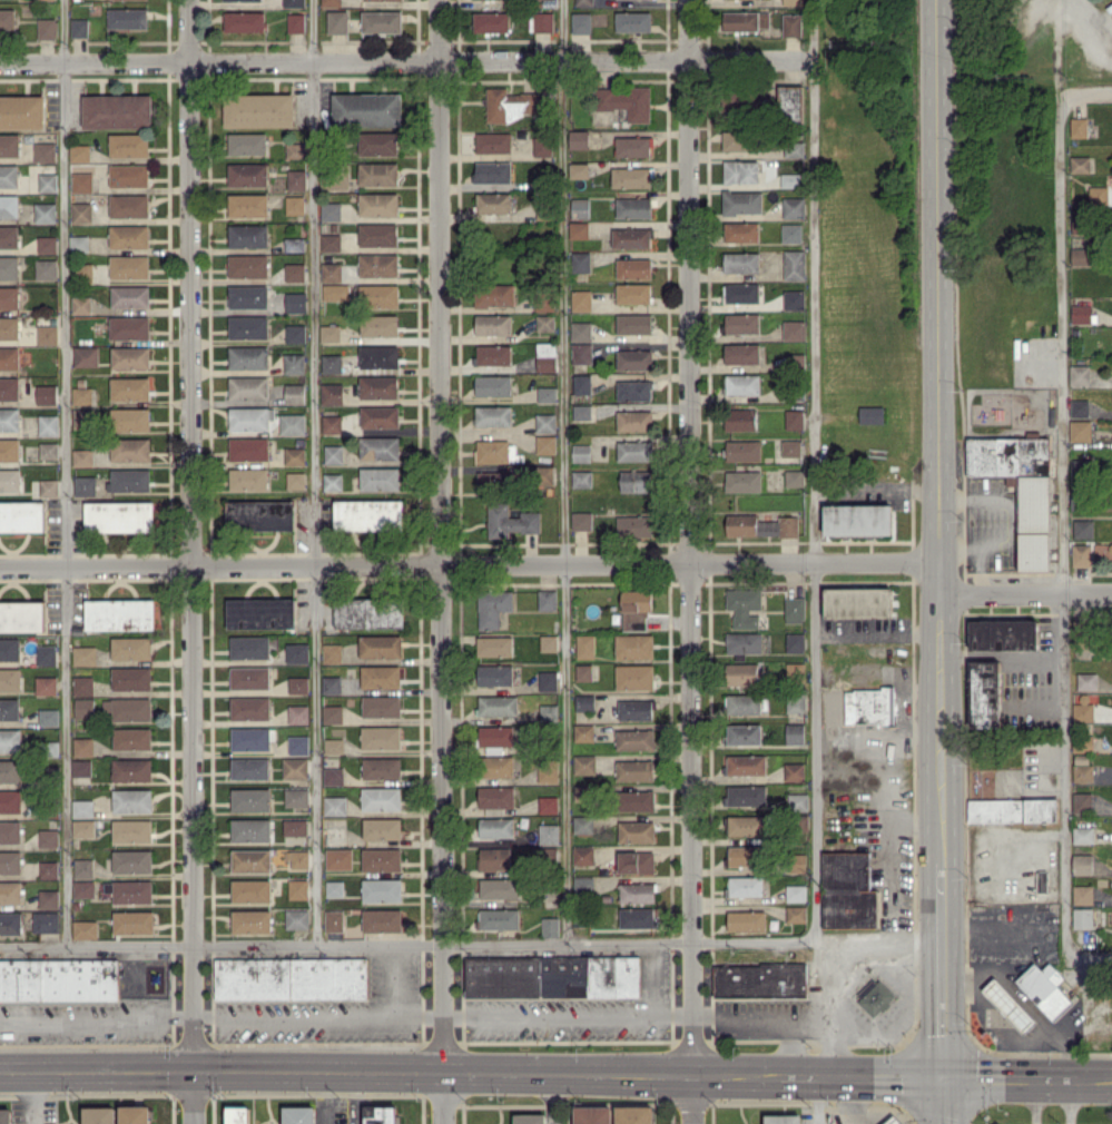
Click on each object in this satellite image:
building: (239, 0)
building: (791, 1)
building: (294, 2)
building: (331, 2)
building: (583, 2)
building: (127, 18)
building: (7, 19)
road: (1094, 19)
building: (745, 20)
building: (244, 21)
building: (336, 21)
building: (381, 21)
building: (490, 21)
building: (542, 21)
building: (632, 21)
building: (295, 22)
building: (580, 22)
building: (790, 24)
building: (79, 27)
building: (47, 28)
road: (405, 61)
road: (1086, 93)
building: (626, 101)
building: (789, 102)
building: (511, 103)
building: (258, 109)
building: (366, 109)
building: (117, 110)
building: (22, 111)
building: (1079, 127)
building: (578, 138)
building: (737, 140)
building: (247, 142)
building: (377, 142)
building: (492, 142)
building: (9, 145)
building: (129, 145)
building: (542, 146)
building: (632, 146)
building: (793, 149)
building: (295, 150)
building: (45, 151)
building: (80, 152)
building: (1080, 164)
building: (578, 169)
building: (740, 170)
building: (492, 171)
building: (247, 174)
building: (378, 174)
building: (9, 175)
building: (129, 175)
building: (630, 177)
building: (296, 179)
building: (789, 179)
building: (334, 180)
building: (48, 181)
building: (82, 183)
building: (1098, 194)
building: (493, 201)
building: (741, 201)
building: (294, 204)
building: (378, 204)
building: (129, 205)
building: (248, 205)
building: (9, 206)
building: (580, 207)
building: (633, 207)
building: (793, 207)
building: (331, 210)
building: (46, 211)
building: (81, 211)
building: (578, 229)
building: (741, 231)
building: (790, 231)
building: (378, 234)
building: (248, 235)
building: (9, 236)
building: (129, 236)
building: (631, 237)
building: (331, 241)
building: (79, 243)
building: (47, 244)
building: (294, 244)
building: (1081, 256)
building: (580, 262)
building: (740, 262)
building: (794, 264)
building: (248, 265)
building: (378, 265)
building: (129, 266)
building: (9, 267)
building: (46, 268)
building: (633, 268)
building: (82, 272)
building: (295, 272)
building: (331, 272)
building: (335, 292)
building: (633, 293)
building: (740, 293)
building: (248, 295)
building: (378, 295)
building: (494, 295)
building: (130, 296)
building: (9, 297)
building: (581, 299)
building: (794, 299)
building: (295, 302)
building: (81, 304)
building: (1081, 313)
building: (545, 323)
building: (633, 323)
building: (742, 323)
building: (493, 324)
building: (380, 325)
building: (248, 326)
building: (9, 327)
building: (129, 327)
building: (794, 329)
building: (581, 331)
building: (295, 333)
building: (329, 333)
building: (48, 334)
building: (581, 353)
building: (741, 353)
building: (493, 354)
building: (86, 356)
building: (248, 356)
building: (380, 356)
building: (545, 356)
building: (9, 357)
building: (130, 357)
building: (634, 359)
building: (294, 363)
building: (332, 363)
building: (1079, 375)
building: (582, 383)
building: (742, 384)
building: (493, 385)
building: (378, 386)
building: (9, 387)
building: (248, 387)
building: (130, 388)
building: (633, 390)
building: (295, 393)
building: (332, 393)
building: (47, 394)
building: (547, 394)
building: (82, 395)
building: (1079, 407)
building: (582, 411)
building: (870, 414)
building: (493, 415)
building: (380, 416)
building: (81, 417)
building: (10, 418)
building: (794, 418)
building: (130, 420)
building: (266, 420)
building: (740, 420)
building: (634, 421)
building: (545, 422)
building: (48, 424)
building: (332, 424)
building: (1080, 430)
road: (938, 431)
building: (545, 444)
building: (380, 447)
building: (791, 447)
building: (249, 448)
building: (9, 450)
building: (49, 450)
building: (130, 450)
building: (742, 450)
building: (494, 451)
building: (634, 451)
building: (581, 452)
building: (334, 454)
building: (295, 455)
building: (82, 456)
road: (813, 471)
road: (65, 472)
road: (313, 472)
road: (569, 472)
building: (544, 475)
building: (794, 477)
building: (248, 479)
building: (380, 479)
building: (582, 479)
building: (10, 480)
building: (130, 480)
building: (296, 480)
building: (493, 480)
building: (637, 480)
building: (742, 481)
building: (333, 482)
building: (85, 485)
building: (49, 486)
building: (1021, 487)
building: (368, 514)
building: (22, 515)
building: (119, 515)
building: (260, 515)
road: (1012, 517)
building: (859, 519)
building: (581, 520)
building: (511, 521)
road: (1066, 524)
building: (634, 525)
building: (760, 525)
building: (1083, 528)
road: (191, 535)
road: (441, 536)
road: (690, 538)
building: (1110, 548)
building: (1081, 554)
road: (469, 563)
road: (1025, 593)
building: (548, 600)
building: (858, 602)
building: (493, 607)
building: (745, 607)
building: (636, 609)
building: (795, 609)
building: (370, 612)
building: (262, 613)
building: (120, 614)
building: (22, 615)
road: (876, 630)
building: (1004, 634)
building: (549, 642)
building: (744, 642)
building: (795, 642)
building: (381, 645)
building: (494, 645)
building: (585, 645)
building: (634, 645)
building: (250, 647)
building: (131, 648)
building: (10, 649)
building: (297, 652)
building: (332, 652)
road: (1030, 653)
building: (47, 654)
building: (85, 654)
building: (584, 671)
building: (742, 673)
building: (495, 674)
building: (250, 677)
building: (381, 677)
building: (634, 677)
building: (131, 678)
building: (10, 679)
building: (548, 680)
building: (1088, 681)
building: (46, 684)
building: (82, 684)
building: (298, 684)
building: (332, 684)
building: (985, 693)
building: (796, 701)
building: (584, 702)
building: (744, 703)
building: (498, 704)
building: (382, 706)
building: (869, 706)
building: (83, 707)
building: (129, 708)
building: (250, 708)
road: (1060, 708)
building: (9, 709)
building: (636, 709)
building: (1083, 711)
building: (549, 712)
building: (298, 713)
building: (333, 713)
building: (48, 717)
building: (583, 732)
building: (745, 733)
building: (795, 733)
building: (381, 737)
building: (495, 737)
building: (132, 738)
building: (250, 738)
building: (634, 739)
building: (10, 740)
building: (298, 745)
building: (82, 746)
building: (334, 746)
building: (584, 763)
building: (746, 763)
building: (498, 766)
building: (81, 767)
building: (382, 767)
building: (250, 768)
building: (295, 768)
building: (132, 769)
building: (11, 770)
building: (634, 770)
building: (795, 771)
building: (1083, 772)
building: (548, 773)
building: (333, 776)
building: (746, 795)
building: (496, 796)
building: (296, 797)
building: (381, 798)
building: (250, 799)
building: (132, 800)
building: (637, 800)
building: (10, 801)
building: (798, 801)
building: (1082, 802)
building: (548, 803)
building: (335, 805)
building: (82, 808)
building: (1041, 809)
building: (583, 824)
building: (747, 825)
building: (295, 827)
building: (496, 827)
building: (83, 828)
building: (382, 828)
building: (250, 829)
building: (132, 830)
building: (10, 831)
building: (637, 831)
road: (1014, 832)
building: (549, 834)
building: (336, 835)
building: (1083, 835)
building: (49, 838)
building: (583, 855)
building: (744, 855)
building: (298, 858)
building: (338, 858)
building: (494, 858)
building: (382, 859)
building: (132, 860)
building: (250, 860)
building: (10, 861)
building: (637, 861)
building: (797, 862)
building: (1083, 864)
building: (83, 868)
building: (49, 869)
building: (583, 884)
building: (745, 886)
building: (83, 888)
building: (298, 888)
building: (334, 888)
building: (499, 888)
building: (382, 889)
building: (130, 890)
building: (250, 890)
building: (848, 890)
building: (10, 891)
building: (637, 893)
building: (796, 893)
building: (1083, 894)
building: (49, 898)
building: (796, 913)
building: (637, 917)
building: (1083, 917)
building: (297, 918)
building: (499, 918)
building: (382, 919)
building: (252, 920)
building: (334, 920)
building: (746, 920)
building: (46, 921)
building: (134, 921)
building: (10, 923)
building: (550, 926)
road: (990, 928)
building: (85, 929)
road: (406, 945)
road: (1090, 956)
road: (834, 960)
road: (942, 970)
building: (553, 976)
building: (292, 978)
road: (652, 978)
building: (59, 979)
road: (395, 979)
building: (760, 980)
building: (1045, 988)
building: (875, 996)
building: (1010, 1005)
road: (568, 1013)
road: (318, 1015)
road: (97, 1017)
road: (769, 1018)
traffic signals: (194, 1072)
road: (471, 1073)
traffic signals: (943, 1079)
road: (1027, 1079)
road: (194, 1097)
road: (31, 1098)
road: (357, 1098)
road: (445, 1098)
road: (553, 1098)
road: (693, 1100)
road: (816, 1101)
road: (856, 1101)
road: (943, 1102)
road: (1071, 1102)
building: (137, 1114)
building: (382, 1114)
building: (593, 1114)
building: (634, 1114)
building: (6, 1115)
building: (100, 1115)
building: (238, 1115)
building: (299, 1115)
building: (531, 1118)
building: (784, 1118)
building: (893, 1121)

